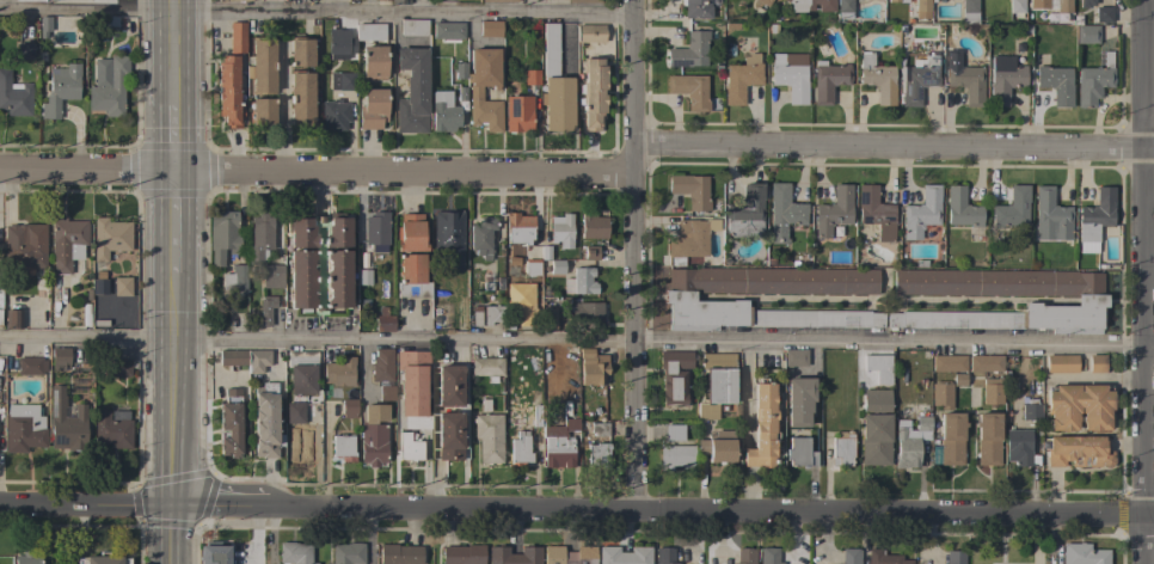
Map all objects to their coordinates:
building: (30, 0)
building: (234, 0)
building: (499, 0)
building: (399, 1)
building: (584, 1)
building: (897, 1)
building: (763, 2)
building: (1038, 4)
building: (1085, 4)
building: (811, 5)
building: (1063, 6)
building: (1017, 7)
building: (696, 8)
building: (845, 10)
building: (922, 10)
road: (318, 11)
building: (969, 12)
road: (1149, 12)
building: (1104, 14)
building: (108, 22)
building: (44, 26)
building: (413, 26)
building: (489, 29)
building: (448, 30)
building: (370, 32)
building: (590, 33)
building: (1087, 35)
building: (339, 43)
building: (689, 50)
building: (25, 51)
building: (301, 51)
building: (374, 62)
building: (263, 66)
building: (460, 70)
building: (530, 76)
building: (231, 78)
building: (788, 79)
building: (877, 79)
building: (917, 79)
building: (1003, 79)
building: (342, 81)
building: (739, 81)
building: (828, 81)
building: (966, 82)
building: (1056, 84)
building: (554, 85)
building: (1092, 85)
building: (60, 90)
building: (110, 90)
building: (689, 90)
building: (412, 91)
building: (593, 93)
building: (461, 94)
building: (474, 94)
building: (14, 98)
building: (301, 98)
building: (373, 109)
building: (263, 112)
building: (443, 112)
road: (282, 114)
building: (518, 114)
building: (334, 115)
road: (895, 151)
road: (317, 177)
building: (690, 190)
building: (962, 208)
building: (1012, 208)
building: (833, 210)
building: (782, 211)
building: (874, 211)
building: (745, 213)
building: (921, 213)
building: (1051, 213)
building: (1095, 214)
building: (593, 226)
building: (338, 228)
building: (375, 228)
building: (518, 228)
building: (561, 231)
building: (411, 233)
building: (222, 235)
building: (110, 237)
building: (481, 237)
building: (259, 238)
building: (689, 239)
building: (448, 240)
building: (67, 243)
building: (24, 246)
building: (591, 252)
building: (545, 253)
road: (636, 258)
building: (557, 266)
building: (530, 268)
building: (508, 269)
building: (98, 275)
building: (272, 276)
building: (412, 276)
building: (363, 277)
building: (302, 278)
building: (337, 278)
building: (235, 280)
road: (167, 281)
building: (579, 281)
road: (1147, 282)
building: (122, 286)
building: (486, 287)
building: (87, 295)
building: (679, 296)
building: (0, 299)
building: (1091, 304)
building: (265, 309)
building: (440, 312)
building: (587, 313)
building: (492, 314)
building: (85, 315)
building: (475, 317)
building: (12, 319)
building: (547, 319)
building: (383, 320)
road: (575, 339)
road: (1152, 355)
building: (60, 356)
building: (233, 357)
building: (794, 357)
building: (257, 360)
building: (949, 363)
building: (986, 363)
building: (1061, 363)
building: (1097, 363)
building: (381, 364)
building: (30, 366)
building: (118, 367)
building: (486, 367)
building: (591, 367)
building: (879, 367)
building: (301, 372)
building: (339, 372)
building: (674, 376)
building: (491, 380)
building: (958, 380)
building: (717, 384)
road: (744, 384)
building: (449, 386)
building: (992, 391)
building: (386, 393)
building: (941, 394)
building: (799, 400)
building: (1079, 406)
building: (349, 407)
building: (423, 411)
building: (1031, 411)
building: (294, 413)
building: (113, 415)
building: (582, 416)
building: (265, 421)
building: (66, 423)
building: (229, 423)
building: (339, 425)
building: (23, 428)
building: (762, 428)
building: (874, 428)
building: (599, 429)
building: (111, 430)
building: (674, 433)
building: (373, 435)
building: (449, 436)
building: (487, 437)
building: (987, 437)
building: (951, 439)
road: (434, 440)
building: (910, 441)
building: (559, 443)
building: (299, 445)
building: (717, 446)
building: (409, 447)
building: (1020, 447)
building: (343, 448)
building: (520, 448)
building: (841, 449)
building: (800, 452)
building: (1078, 452)
building: (597, 455)
building: (676, 456)
road: (85, 511)
traffic signals: (170, 513)
road: (220, 513)
road: (712, 517)
building: (211, 553)
building: (294, 553)
building: (346, 553)
building: (399, 554)
building: (462, 554)
building: (569, 554)
building: (1082, 554)
building: (512, 556)
building: (624, 556)
building: (664, 556)
building: (745, 556)
building: (768, 556)
building: (849, 556)
building: (954, 557)
building: (26, 558)
building: (885, 558)
building: (103, 559)
building: (326, 563)

